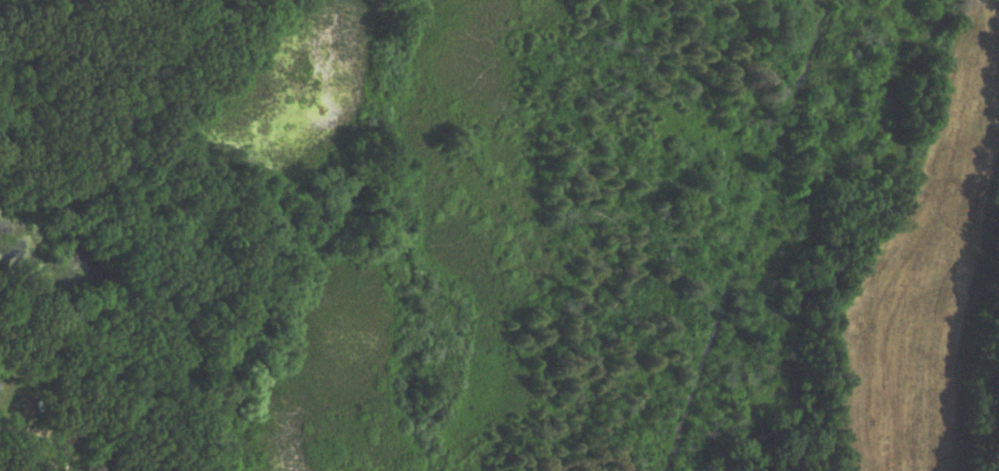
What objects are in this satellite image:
road: (26, 431)

